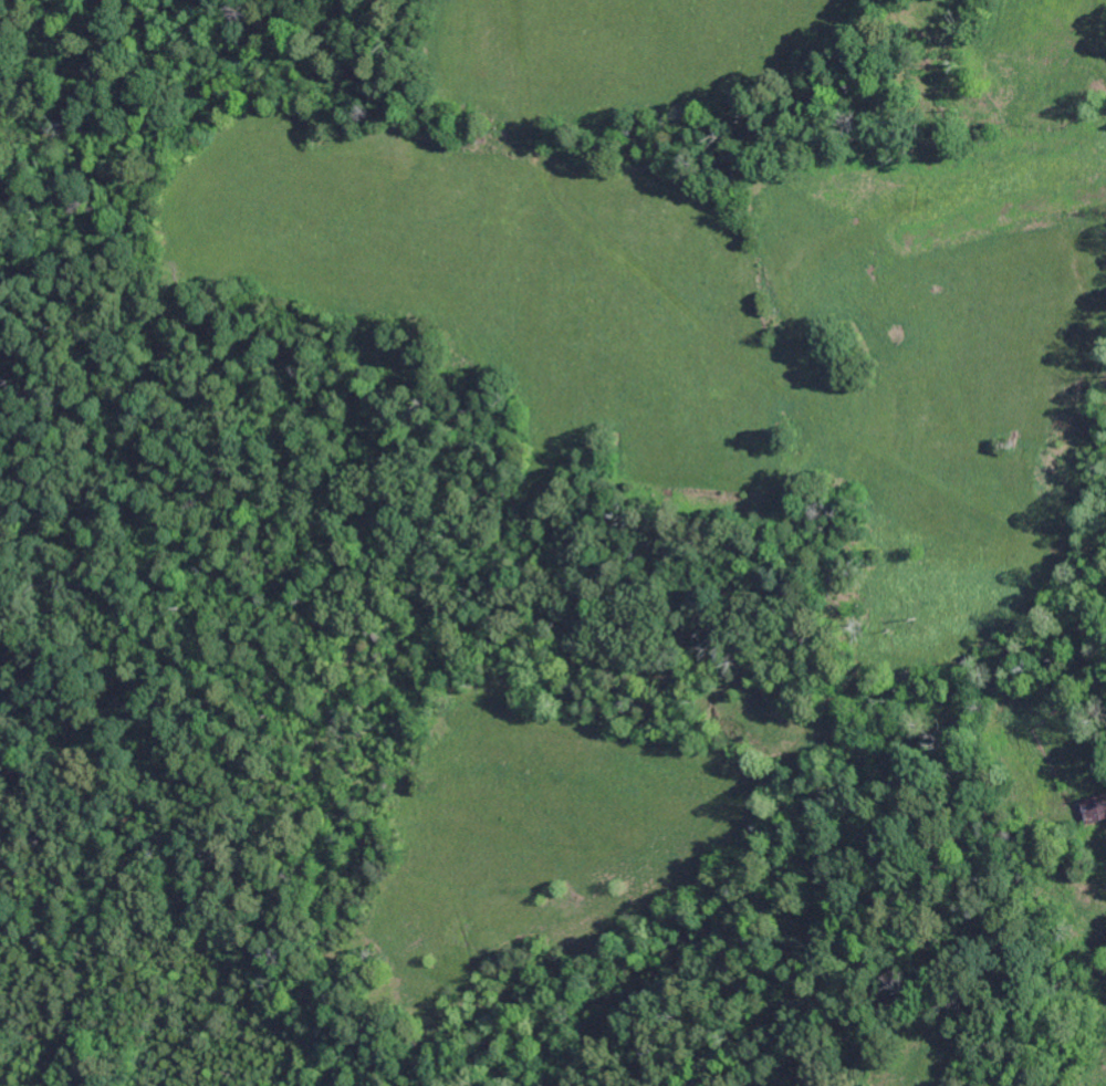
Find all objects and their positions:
building: (1096, 810)

